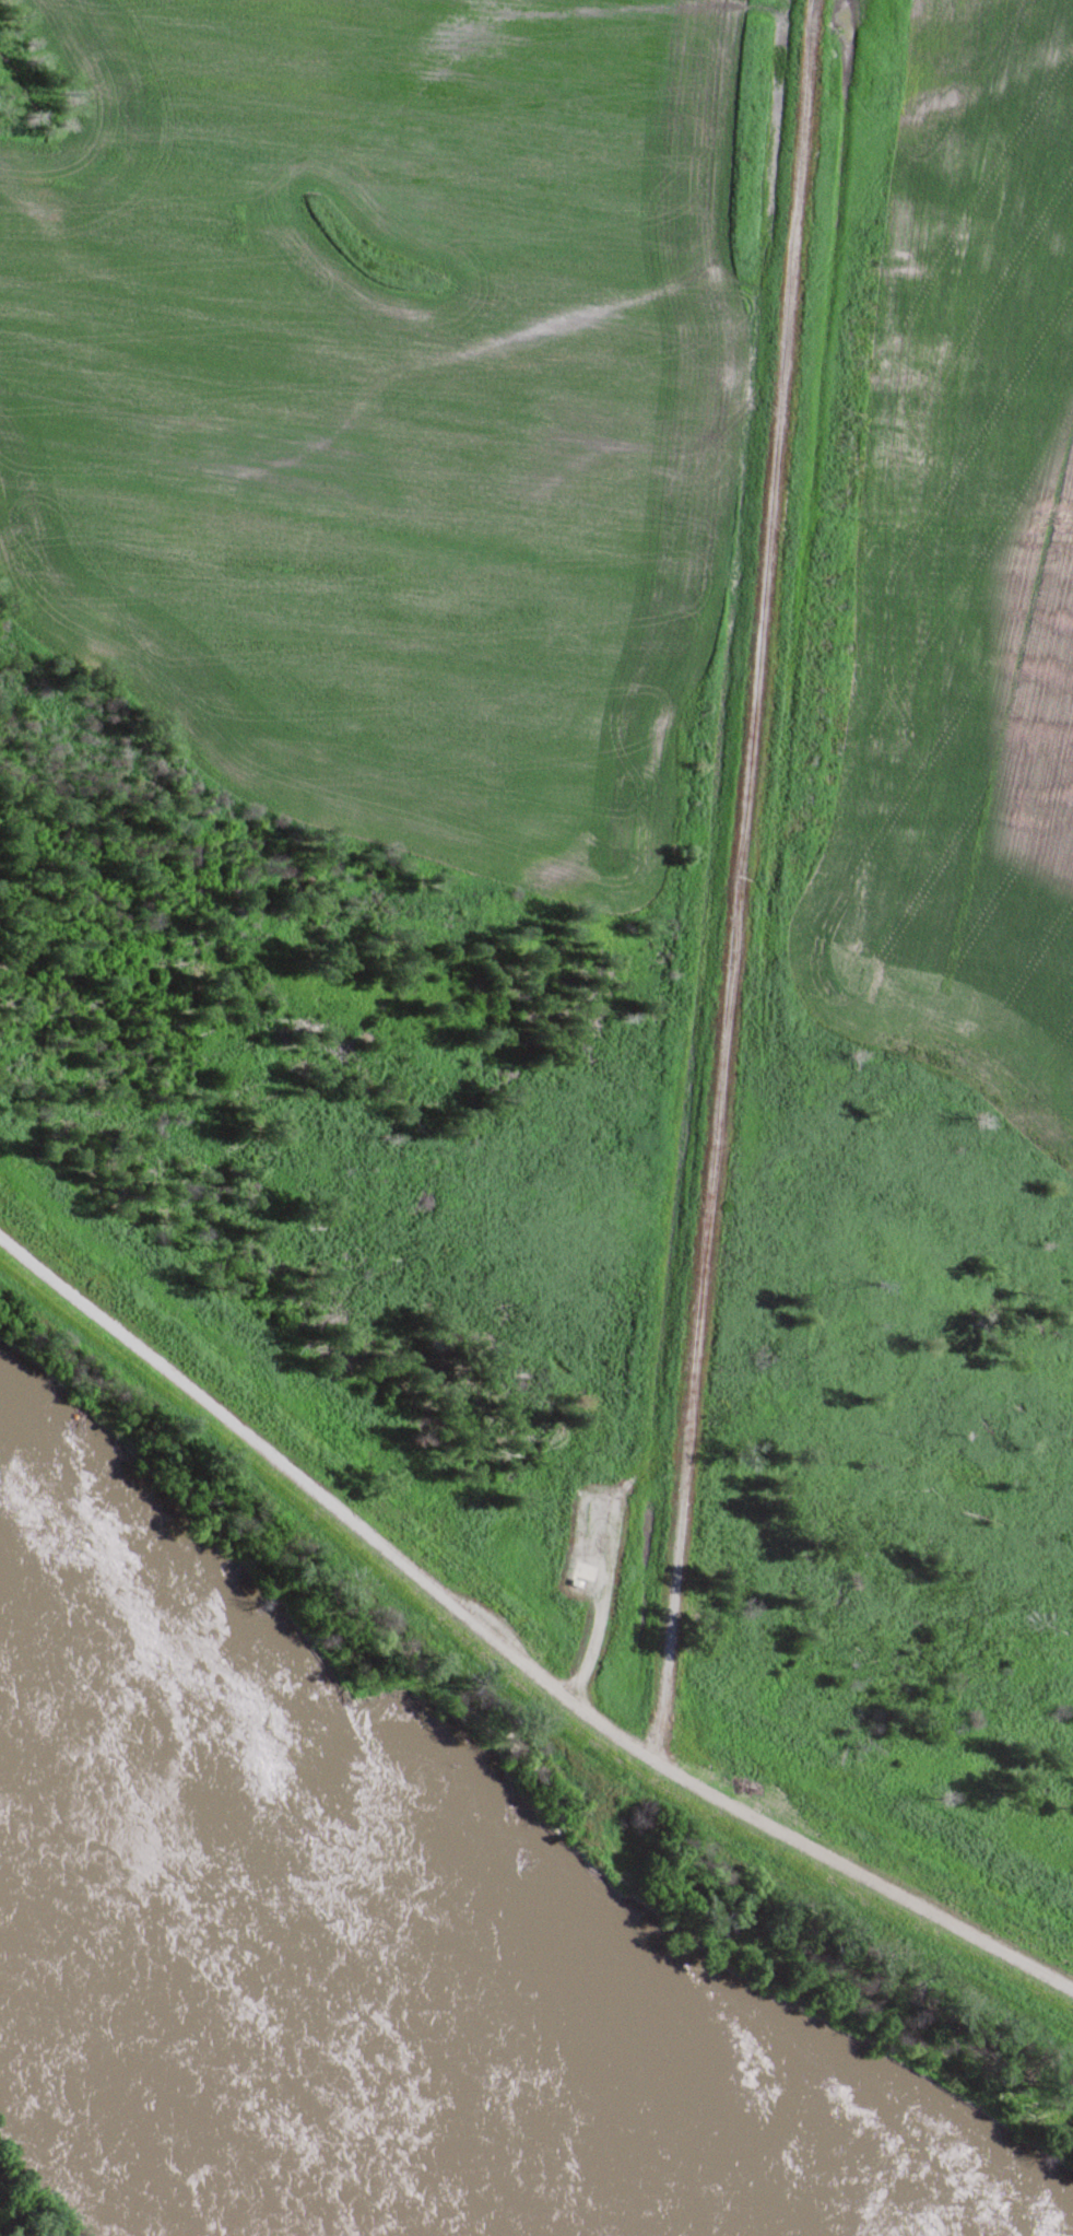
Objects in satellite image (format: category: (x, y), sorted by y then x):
road: (738, 873)
road: (506, 1651)
river: (321, 1954)

